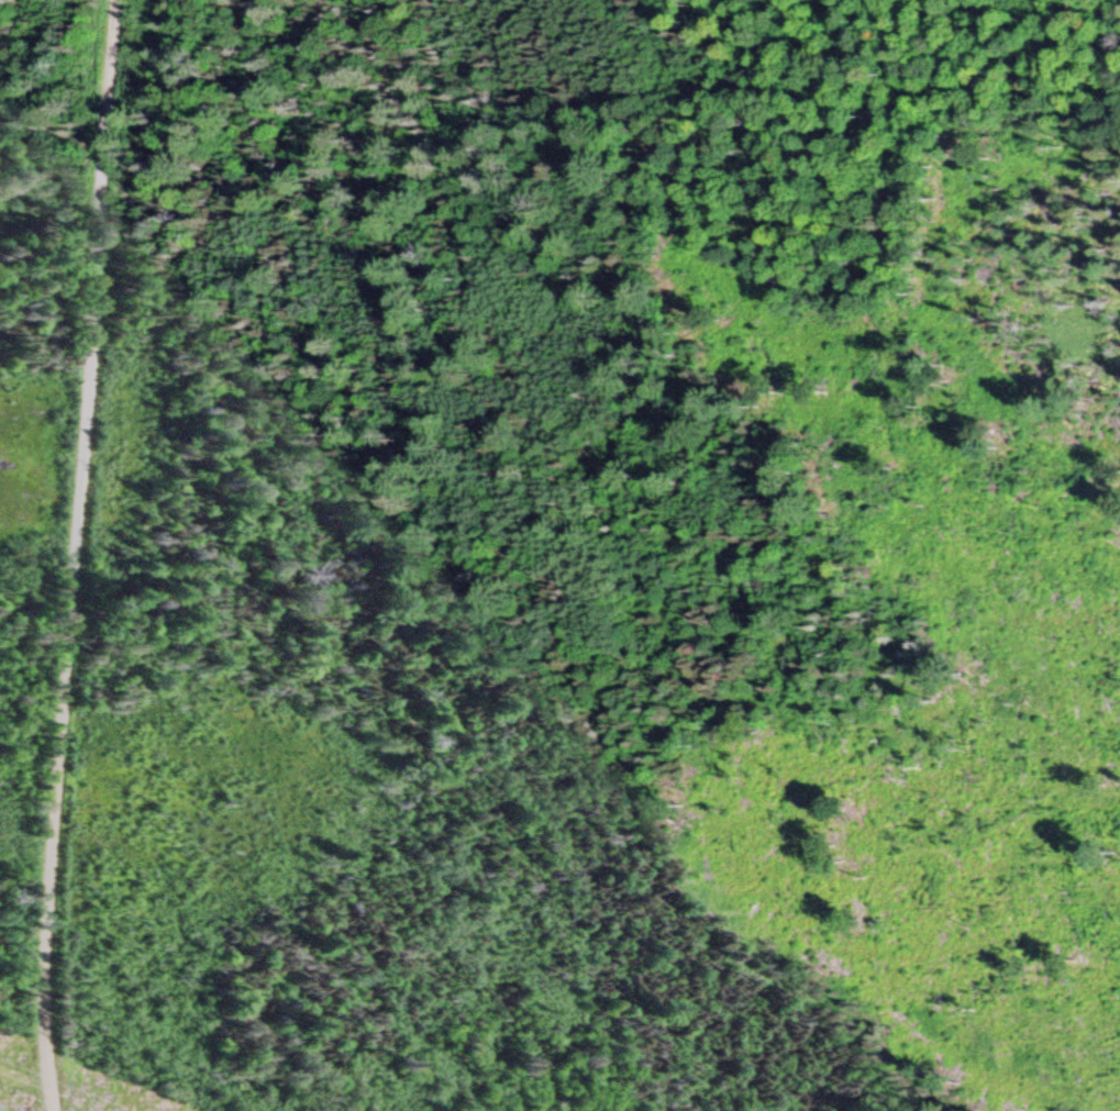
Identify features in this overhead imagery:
road: (73, 555)

